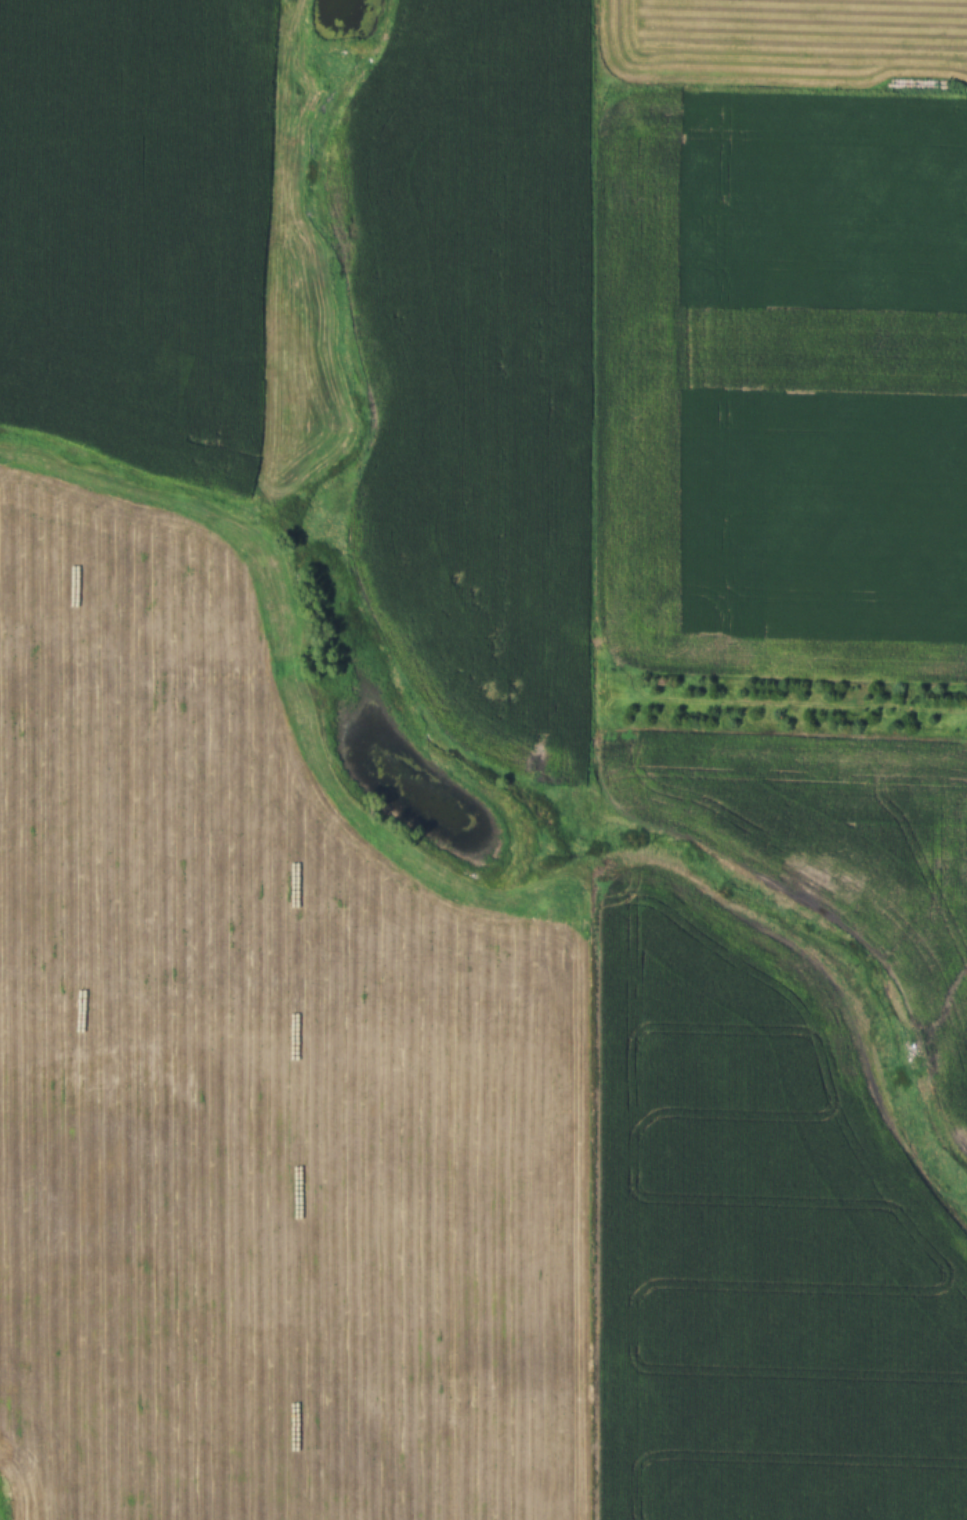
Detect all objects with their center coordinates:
building: (949, 671)

